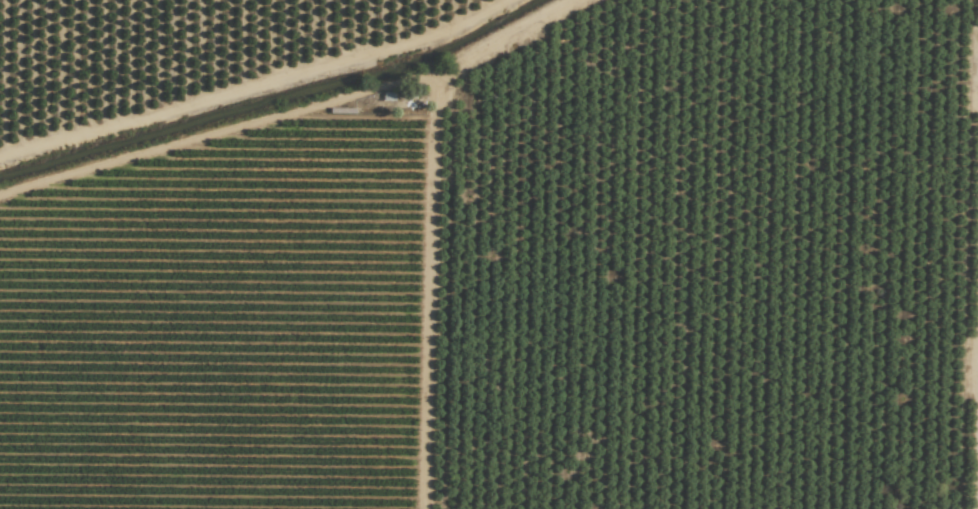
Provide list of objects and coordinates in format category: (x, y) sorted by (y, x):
road: (258, 87)

